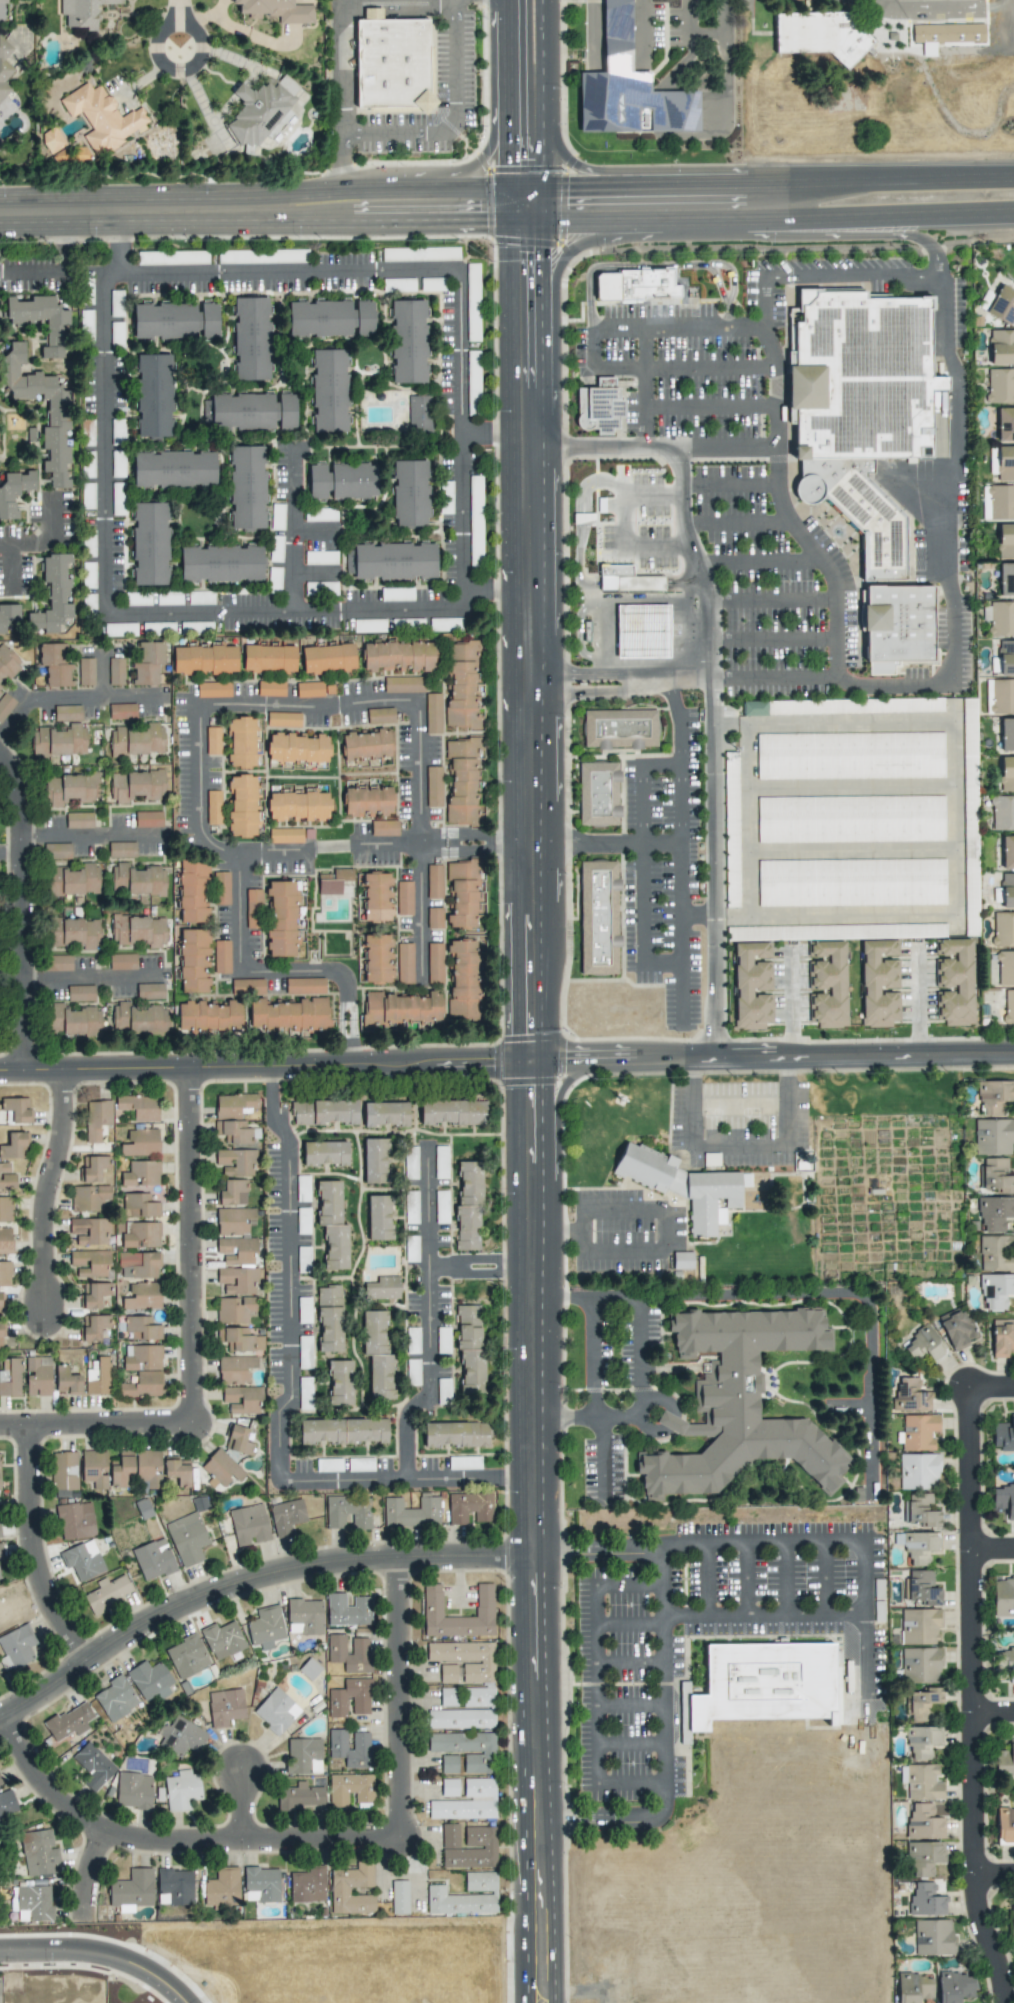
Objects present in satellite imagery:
building: (3, 1)
building: (958, 8)
building: (276, 10)
building: (82, 12)
building: (372, 13)
road: (724, 17)
road: (170, 27)
road: (642, 34)
road: (592, 35)
building: (820, 35)
building: (946, 35)
building: (392, 63)
building: (4, 67)
road: (726, 81)
building: (629, 88)
road: (341, 104)
building: (261, 113)
building: (102, 117)
road: (454, 119)
building: (52, 139)
road: (566, 160)
road: (467, 169)
road: (900, 181)
road: (654, 204)
road: (258, 210)
road: (901, 210)
road: (828, 235)
building: (420, 254)
road: (564, 255)
road: (660, 265)
road: (28, 269)
road: (854, 275)
road: (719, 282)
building: (635, 285)
road: (767, 298)
building: (116, 303)
building: (1002, 305)
building: (330, 318)
building: (41, 320)
building: (175, 320)
road: (750, 321)
building: (86, 326)
building: (251, 338)
building: (408, 341)
building: (1001, 347)
road: (634, 367)
building: (1000, 385)
building: (329, 390)
building: (153, 395)
road: (706, 405)
building: (599, 406)
building: (859, 407)
building: (250, 411)
building: (59, 412)
building: (419, 413)
building: (1005, 424)
building: (87, 433)
road: (491, 434)
building: (1002, 462)
building: (174, 469)
building: (341, 481)
road: (729, 482)
building: (247, 487)
road: (581, 487)
building: (14, 491)
building: (410, 493)
building: (1001, 502)
building: (320, 515)
building: (277, 517)
road: (294, 526)
road: (738, 528)
road: (316, 531)
building: (1005, 540)
road: (47, 541)
building: (150, 543)
building: (321, 557)
road: (819, 558)
building: (391, 561)
building: (221, 563)
road: (762, 566)
road: (10, 567)
road: (315, 574)
building: (626, 579)
building: (1006, 579)
road: (691, 593)
road: (950, 593)
building: (397, 594)
building: (53, 596)
building: (199, 597)
building: (169, 598)
building: (138, 599)
road: (610, 599)
road: (772, 601)
road: (417, 608)
building: (9, 618)
building: (1001, 618)
building: (897, 626)
building: (120, 629)
building: (642, 631)
road: (683, 634)
road: (772, 637)
road: (695, 641)
building: (399, 656)
building: (1006, 657)
building: (328, 658)
building: (205, 659)
building: (269, 659)
road: (645, 659)
building: (148, 663)
building: (55, 664)
building: (7, 665)
building: (86, 671)
building: (116, 671)
road: (102, 673)
road: (709, 674)
road: (616, 677)
building: (403, 684)
building: (464, 685)
building: (271, 688)
building: (213, 689)
building: (309, 689)
road: (72, 695)
building: (1002, 696)
building: (5, 705)
road: (197, 706)
building: (754, 708)
building: (122, 711)
building: (67, 713)
building: (432, 713)
building: (380, 715)
building: (283, 719)
building: (619, 728)
building: (1007, 734)
building: (138, 740)
building: (213, 740)
building: (241, 742)
building: (57, 743)
building: (366, 744)
building: (297, 748)
building: (850, 755)
road: (676, 761)
building: (1007, 773)
road: (526, 779)
building: (463, 780)
building: (136, 785)
building: (433, 786)
road: (640, 786)
road: (849, 787)
building: (69, 789)
building: (598, 794)
building: (367, 802)
building: (242, 806)
building: (298, 806)
building: (213, 807)
building: (1002, 813)
building: (148, 819)
building: (851, 819)
building: (79, 820)
road: (747, 820)
building: (384, 827)
road: (952, 832)
road: (89, 834)
building: (285, 835)
building: (121, 849)
road: (850, 850)
building: (57, 851)
building: (1007, 852)
road: (274, 853)
road: (681, 861)
road: (422, 878)
building: (74, 880)
building: (137, 880)
building: (333, 881)
building: (434, 881)
building: (851, 882)
building: (221, 888)
building: (1007, 890)
building: (193, 891)
building: (464, 893)
building: (377, 896)
building: (404, 898)
building: (253, 908)
road: (19, 912)
building: (285, 916)
building: (598, 917)
building: (434, 918)
road: (642, 923)
building: (1003, 929)
building: (138, 930)
building: (75, 932)
building: (221, 956)
building: (378, 958)
building: (193, 960)
building: (122, 961)
building: (58, 963)
building: (405, 963)
building: (434, 963)
building: (1005, 968)
road: (95, 979)
building: (463, 980)
building: (954, 982)
building: (878, 983)
building: (827, 984)
building: (247, 986)
building: (305, 986)
building: (752, 986)
building: (150, 991)
building: (80, 993)
road: (919, 1001)
building: (1009, 1006)
building: (399, 1010)
road: (785, 1013)
building: (289, 1015)
building: (209, 1017)
building: (138, 1019)
building: (73, 1020)
road: (506, 1064)
road: (692, 1070)
building: (994, 1096)
road: (739, 1099)
building: (139, 1107)
building: (16, 1110)
road: (786, 1111)
building: (324, 1112)
building: (452, 1112)
road: (692, 1112)
building: (385, 1114)
building: (234, 1118)
building: (97, 1119)
building: (993, 1136)
building: (140, 1142)
road: (740, 1144)
building: (14, 1145)
building: (325, 1153)
building: (375, 1160)
building: (236, 1162)
building: (410, 1162)
building: (92, 1168)
building: (141, 1174)
building: (996, 1175)
building: (6, 1177)
building: (684, 1186)
road: (49, 1190)
building: (232, 1193)
building: (90, 1198)
building: (468, 1204)
building: (139, 1205)
building: (411, 1207)
building: (5, 1209)
building: (994, 1213)
building: (379, 1217)
building: (332, 1225)
building: (89, 1230)
road: (665, 1230)
road: (558, 1232)
building: (141, 1234)
road: (584, 1234)
building: (235, 1235)
building: (5, 1240)
road: (193, 1246)
building: (996, 1253)
building: (682, 1260)
building: (89, 1262)
road: (481, 1263)
building: (139, 1265)
building: (5, 1274)
building: (237, 1280)
building: (382, 1288)
building: (996, 1291)
building: (93, 1294)
building: (142, 1296)
road: (688, 1296)
road: (564, 1298)
building: (1, 1306)
building: (235, 1309)
road: (428, 1314)
building: (329, 1318)
building: (92, 1327)
building: (141, 1328)
building: (956, 1330)
building: (1, 1335)
building: (241, 1338)
building: (1002, 1338)
building: (924, 1344)
building: (470, 1350)
building: (377, 1355)
building: (235, 1369)
building: (142, 1370)
building: (38, 1376)
building: (10, 1377)
building: (97, 1377)
building: (66, 1380)
building: (340, 1382)
road: (993, 1386)
building: (910, 1396)
building: (241, 1399)
road: (285, 1402)
building: (739, 1404)
road: (847, 1405)
road: (97, 1424)
road: (598, 1426)
building: (343, 1430)
building: (918, 1431)
building: (456, 1434)
building: (1003, 1435)
building: (238, 1440)
building: (464, 1462)
building: (94, 1468)
building: (222, 1468)
building: (149, 1469)
building: (64, 1470)
building: (122, 1470)
building: (178, 1471)
building: (918, 1471)
building: (1003, 1499)
building: (469, 1507)
building: (920, 1510)
building: (348, 1512)
building: (411, 1512)
building: (286, 1517)
building: (75, 1520)
building: (248, 1525)
building: (187, 1538)
road: (995, 1539)
road: (839, 1540)
building: (917, 1546)
road: (33, 1549)
road: (596, 1550)
building: (1, 1552)
building: (153, 1559)
building: (82, 1560)
road: (824, 1577)
road: (787, 1578)
road: (745, 1579)
road: (251, 1581)
road: (708, 1581)
road: (628, 1584)
building: (921, 1588)
building: (107, 1593)
building: (1003, 1596)
building: (432, 1600)
building: (348, 1610)
road: (762, 1615)
building: (304, 1616)
road: (629, 1625)
building: (919, 1626)
building: (265, 1627)
road: (977, 1630)
building: (222, 1640)
building: (360, 1645)
building: (16, 1647)
building: (186, 1656)
building: (463, 1661)
road: (630, 1661)
building: (1004, 1664)
building: (920, 1665)
building: (309, 1668)
building: (149, 1680)
road: (598, 1685)
building: (763, 1685)
building: (449, 1697)
building: (115, 1698)
building: (349, 1698)
road: (399, 1700)
building: (925, 1704)
road: (630, 1706)
building: (225, 1707)
building: (276, 1711)
building: (466, 1711)
road: (996, 1712)
building: (69, 1721)
building: (180, 1737)
building: (361, 1740)
building: (923, 1741)
road: (663, 1742)
road: (631, 1746)
building: (466, 1749)
building: (303, 1756)
building: (1005, 1761)
building: (448, 1764)
building: (93, 1766)
road: (537, 1781)
building: (0, 1782)
building: (923, 1782)
road: (632, 1784)
building: (449, 1787)
building: (350, 1788)
building: (133, 1790)
building: (181, 1790)
building: (300, 1796)
building: (467, 1802)
building: (7, 1804)
road: (243, 1807)
building: (924, 1822)
building: (0, 1826)
building: (1005, 1826)
road: (172, 1841)
building: (468, 1847)
building: (38, 1852)
building: (924, 1858)
road: (87, 1874)
road: (997, 1874)
building: (261, 1884)
building: (308, 1885)
building: (174, 1887)
building: (222, 1887)
building: (345, 1887)
building: (132, 1890)
building: (465, 1896)
building: (399, 1897)
building: (926, 1900)
building: (33, 1903)
building: (1012, 1921)
building: (933, 1937)
road: (999, 1938)
road: (101, 1957)
building: (914, 1987)
building: (954, 1987)

